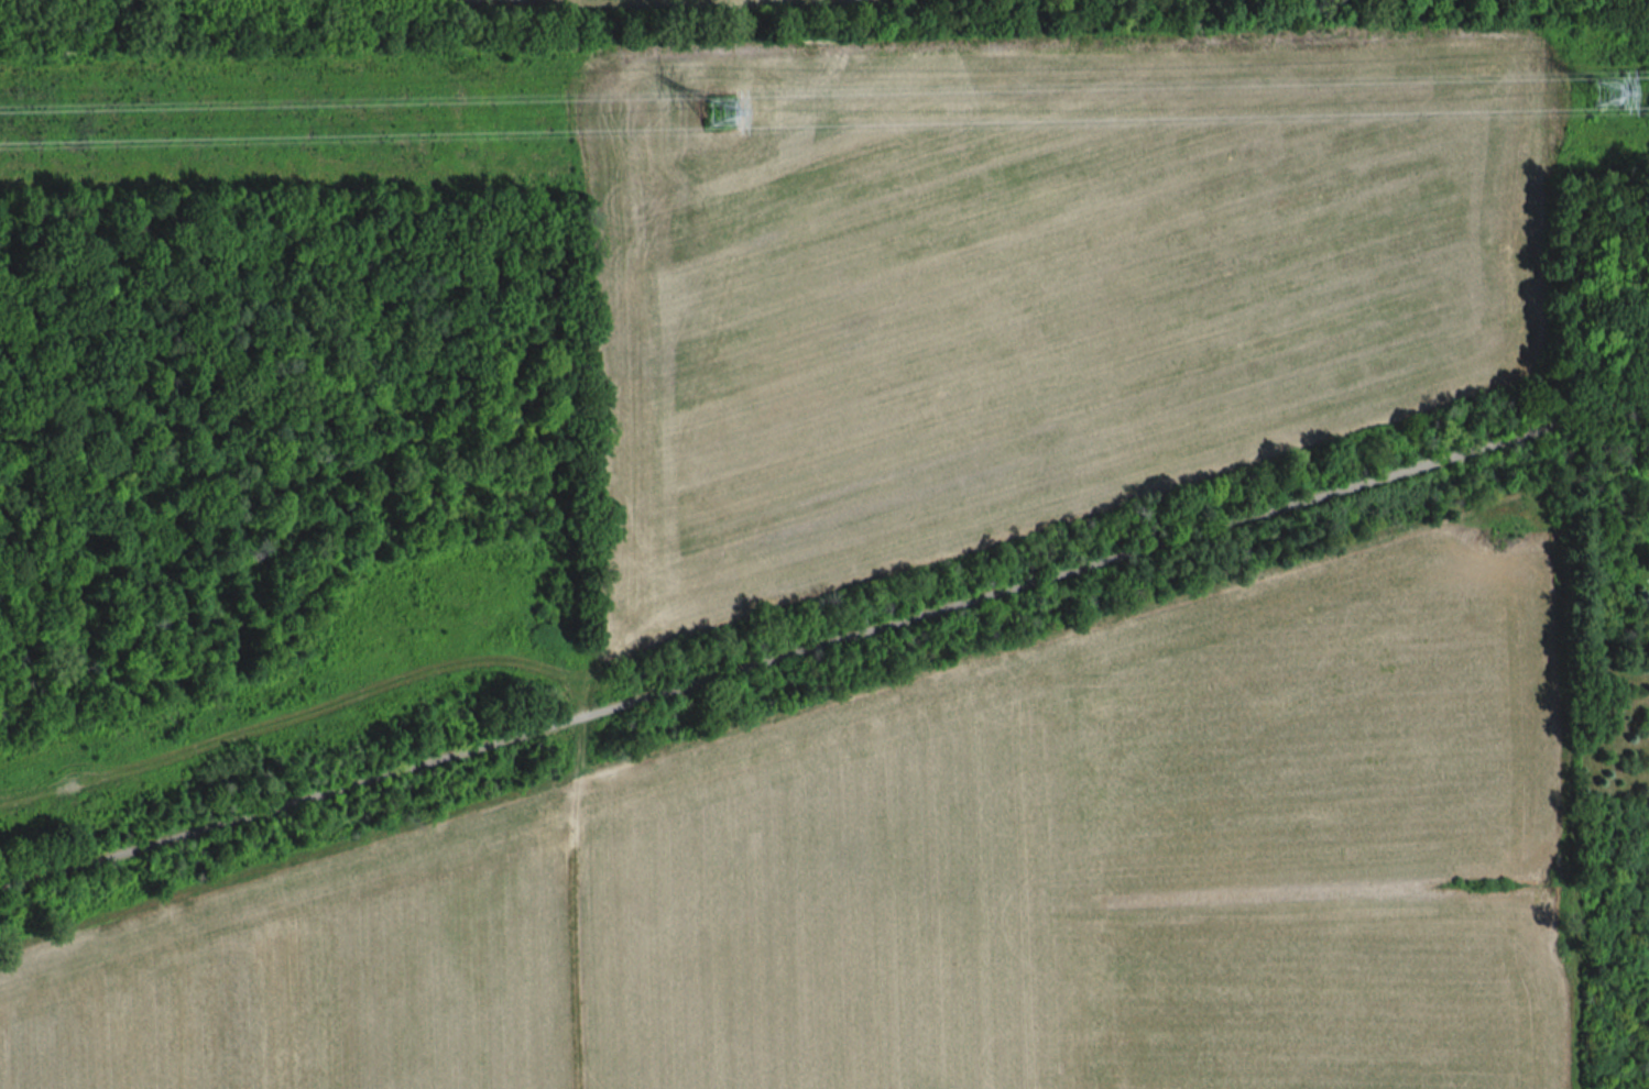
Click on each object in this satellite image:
crop: (522, 1)
power tower: (1607, 95)
crop: (721, 110)
crop: (721, 110)
power tower: (723, 114)
crop: (1025, 294)
road: (825, 646)
crop: (948, 878)

